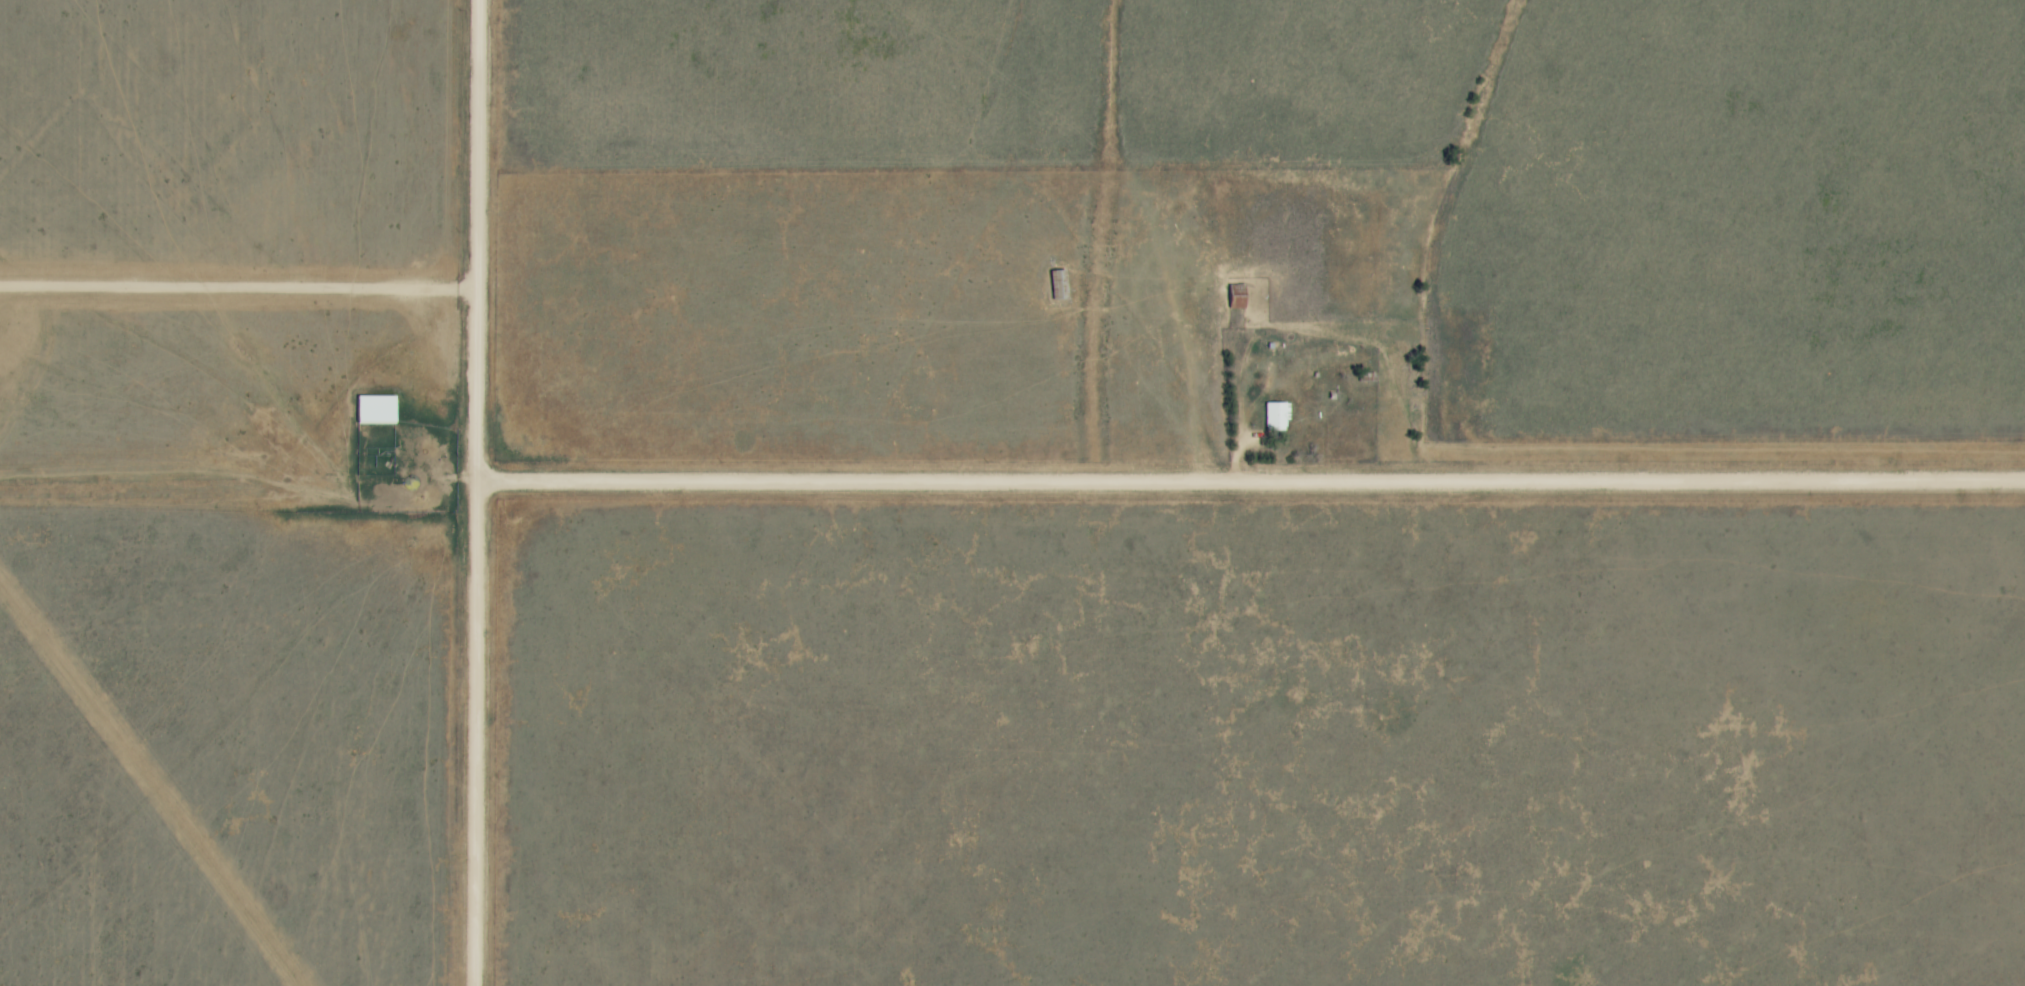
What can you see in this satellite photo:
road: (239, 289)
building: (1277, 418)
road: (1249, 483)
road: (475, 492)

